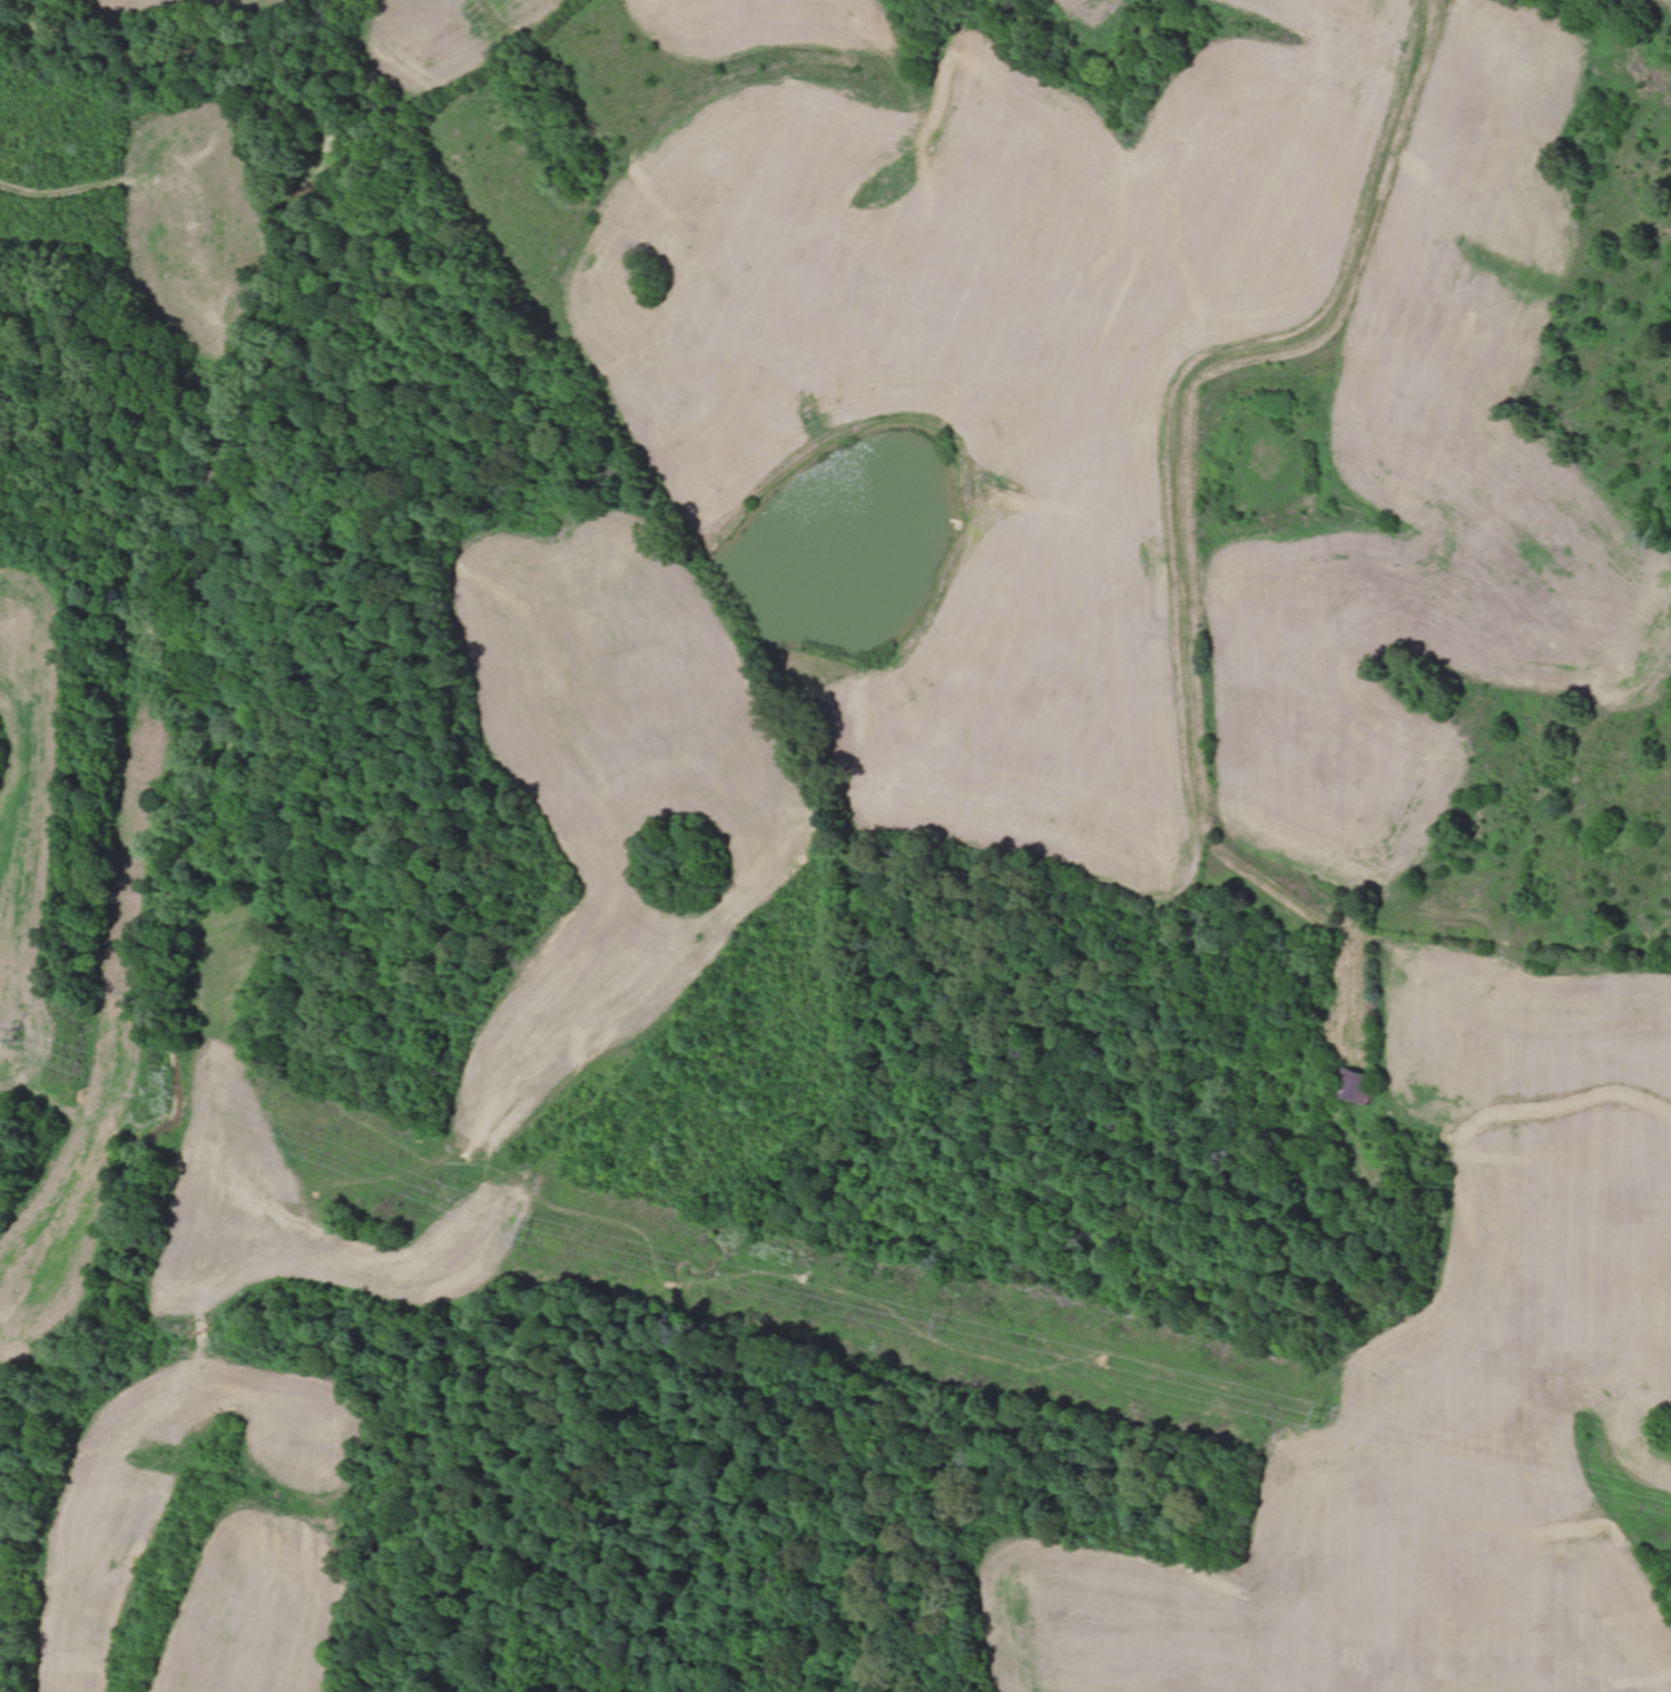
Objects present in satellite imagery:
road: (47, 744)
power tower: (19, 1043)
power tower: (530, 1237)
power tower: (947, 1330)
power tower: (1326, 1415)

